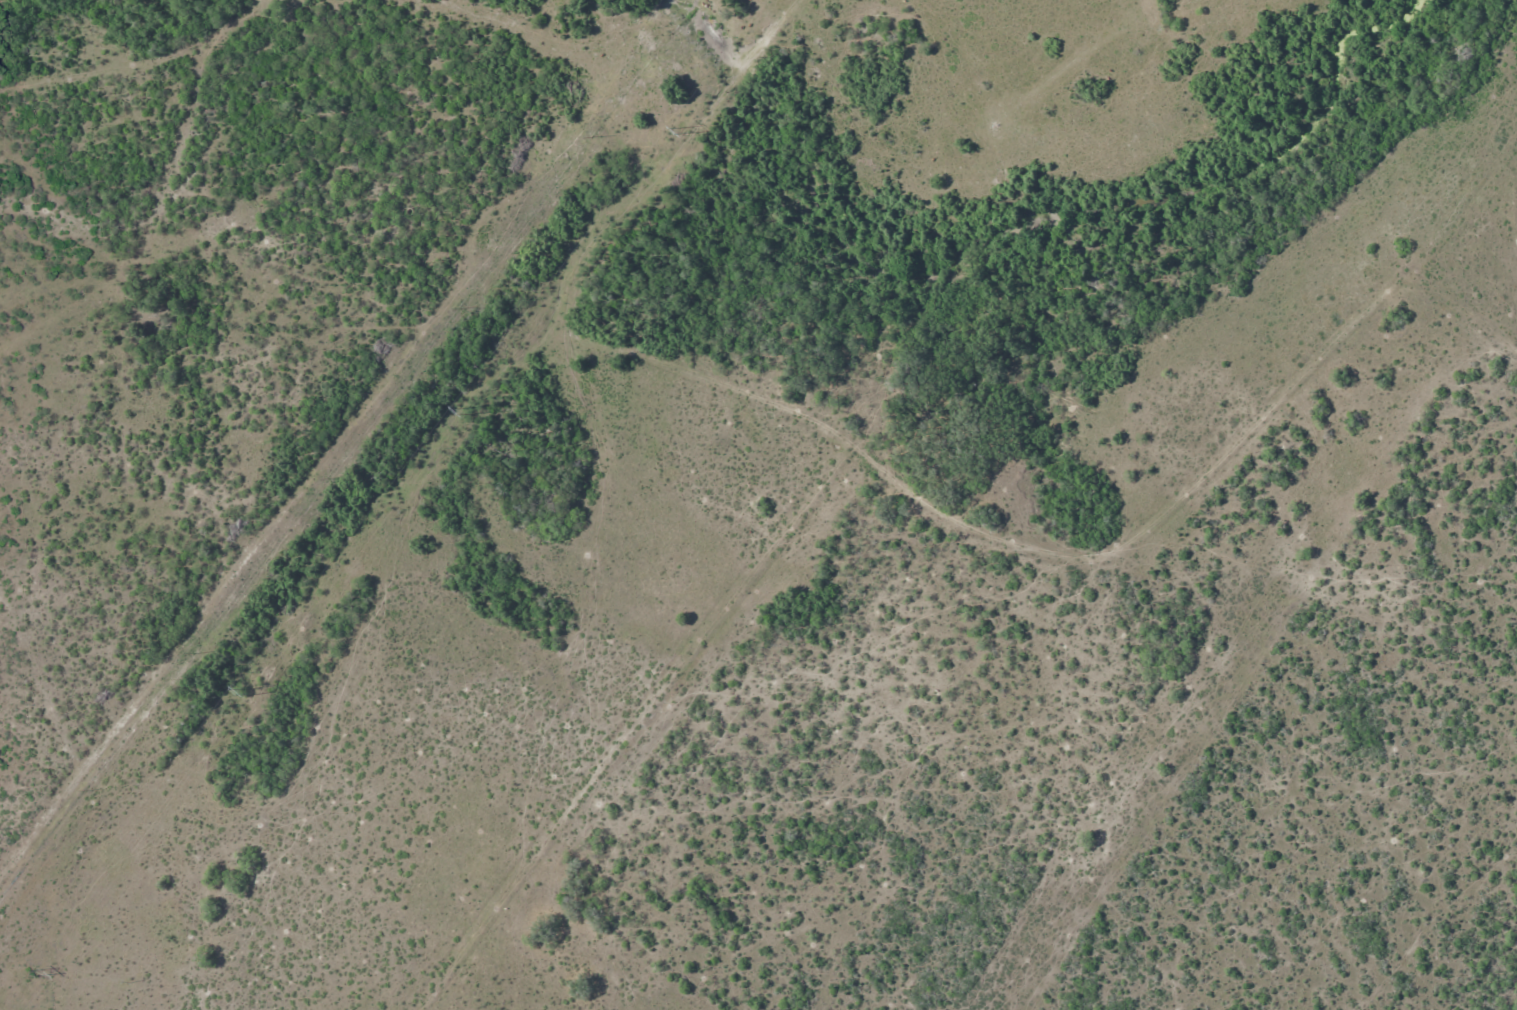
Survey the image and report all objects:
power tower: (684, 130)
power tower: (468, 411)
power tower: (250, 692)
power tower: (32, 973)

